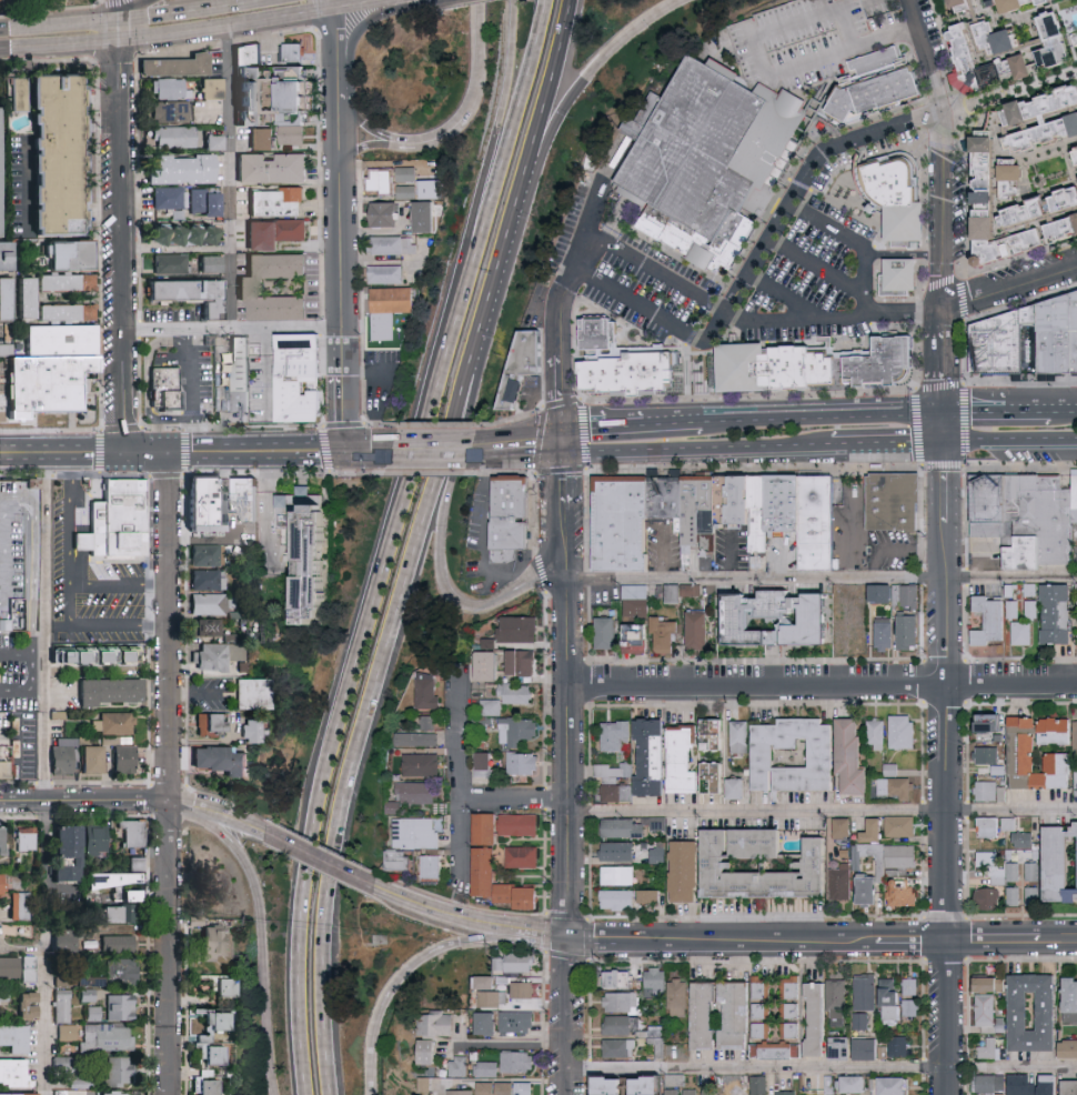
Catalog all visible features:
road: (411, 0)
road: (897, 1)
building: (968, 1)
building: (1024, 2)
road: (339, 7)
road: (374, 8)
road: (177, 9)
road: (118, 10)
road: (138, 10)
traffic signals: (118, 20)
road: (282, 21)
road: (63, 23)
road: (363, 24)
road: (4, 28)
road: (118, 32)
building: (1005, 36)
road: (172, 37)
building: (1061, 39)
road: (340, 41)
parking lot: (813, 41)
traffic signals: (119, 46)
road: (64, 50)
road: (4, 56)
road: (480, 56)
building: (293, 58)
building: (976, 61)
building: (1029, 63)
road: (763, 64)
building: (177, 67)
road: (587, 73)
building: (248, 81)
road: (340, 83)
building: (294, 84)
road: (547, 87)
building: (877, 87)
building: (169, 89)
building: (210, 89)
road: (1010, 93)
building: (18, 99)
road: (341, 99)
building: (292, 111)
road: (500, 111)
road: (514, 111)
building: (169, 112)
building: (1031, 115)
building: (1015, 118)
road: (362, 122)
road: (445, 131)
building: (291, 135)
building: (172, 138)
building: (262, 140)
road: (402, 140)
building: (212, 143)
road: (375, 144)
road: (944, 150)
building: (57, 155)
building: (272, 168)
building: (181, 170)
building: (708, 171)
building: (405, 174)
building: (1020, 178)
road: (228, 179)
building: (378, 180)
building: (405, 192)
building: (0, 194)
building: (992, 197)
building: (1069, 198)
building: (169, 199)
building: (276, 202)
building: (204, 203)
building: (902, 210)
building: (1034, 210)
building: (383, 215)
building: (423, 217)
road: (614, 223)
building: (1067, 227)
building: (273, 233)
building: (182, 235)
road: (767, 239)
building: (1031, 239)
road: (858, 244)
building: (391, 245)
road: (121, 249)
building: (68, 257)
building: (6, 258)
road: (581, 261)
parking lot: (766, 262)
building: (169, 263)
road: (499, 263)
building: (210, 264)
road: (814, 267)
building: (384, 274)
road: (342, 275)
building: (905, 282)
building: (66, 283)
road: (1009, 285)
building: (248, 288)
building: (189, 294)
road: (783, 295)
building: (4, 299)
building: (26, 299)
building: (394, 305)
building: (66, 313)
road: (658, 317)
road: (833, 321)
road: (232, 329)
building: (597, 331)
building: (1058, 335)
building: (60, 340)
building: (999, 345)
building: (7, 353)
road: (556, 355)
building: (886, 372)
building: (626, 375)
building: (301, 376)
building: (525, 376)
building: (748, 378)
building: (807, 380)
building: (236, 382)
building: (43, 385)
road: (189, 391)
building: (165, 392)
road: (717, 400)
road: (995, 408)
road: (1063, 408)
traffic signals: (943, 409)
road: (585, 410)
road: (823, 414)
road: (675, 422)
road: (604, 425)
traffic signals: (562, 428)
road: (8, 435)
road: (519, 439)
road: (562, 441)
road: (1009, 449)
road: (889, 450)
traffic signals: (943, 450)
road: (254, 451)
traffic signals: (344, 451)
road: (370, 451)
road: (435, 451)
road: (144, 452)
traffic signals: (165, 452)
road: (520, 452)
road: (699, 452)
road: (95, 453)
traffic signals: (123, 453)
road: (22, 454)
road: (57, 454)
traffic signals: (563, 454)
road: (563, 481)
road: (449, 500)
building: (664, 503)
building: (782, 508)
building: (897, 509)
building: (733, 510)
road: (0, 512)
building: (516, 514)
building: (756, 514)
building: (697, 515)
building: (1026, 515)
building: (209, 519)
building: (251, 519)
building: (620, 524)
building: (823, 524)
building: (119, 531)
road: (856, 533)
parking lot: (8, 536)
road: (565, 543)
building: (316, 547)
road: (896, 549)
building: (19, 552)
building: (207, 554)
road: (29, 564)
road: (821, 579)
building: (209, 580)
road: (117, 582)
road: (532, 582)
building: (693, 589)
road: (67, 590)
building: (675, 592)
building: (884, 592)
building: (855, 593)
building: (910, 594)
building: (637, 600)
building: (210, 603)
building: (1033, 607)
building: (1059, 612)
building: (997, 615)
building: (783, 617)
road: (168, 625)
road: (44, 626)
building: (211, 626)
building: (520, 627)
building: (698, 629)
building: (607, 631)
building: (908, 631)
building: (852, 632)
building: (885, 632)
building: (1024, 632)
building: (664, 633)
building: (638, 636)
building: (490, 642)
road: (355, 653)
building: (89, 655)
building: (131, 655)
road: (22, 656)
building: (212, 656)
building: (524, 661)
building: (491, 664)
road: (32, 674)
road: (822, 682)
parking lot: (20, 687)
building: (432, 687)
building: (112, 690)
building: (519, 692)
road: (22, 693)
road: (192, 693)
road: (945, 701)
building: (256, 702)
building: (494, 706)
road: (361, 719)
building: (995, 721)
building: (113, 722)
building: (213, 722)
building: (431, 722)
building: (254, 730)
building: (520, 730)
building: (1060, 730)
building: (903, 731)
building: (717, 733)
building: (877, 733)
building: (617, 734)
building: (741, 735)
building: (419, 739)
building: (796, 754)
building: (988, 754)
building: (66, 755)
building: (653, 756)
building: (854, 756)
building: (1037, 757)
building: (94, 759)
building: (127, 759)
road: (567, 759)
building: (224, 760)
building: (684, 760)
building: (524, 762)
building: (424, 763)
building: (486, 763)
building: (4, 768)
building: (893, 768)
building: (615, 771)
building: (717, 776)
road: (463, 780)
building: (1076, 781)
building: (897, 786)
building: (738, 787)
building: (990, 790)
building: (420, 791)
building: (620, 792)
road: (515, 797)
road: (83, 800)
road: (184, 803)
building: (396, 806)
road: (823, 811)
road: (233, 820)
building: (1010, 822)
building: (521, 824)
building: (902, 824)
building: (990, 825)
building: (489, 827)
building: (843, 827)
building: (875, 830)
building: (420, 832)
building: (134, 833)
building: (27, 838)
building: (1024, 838)
building: (2, 840)
building: (98, 840)
building: (618, 850)
building: (72, 852)
building: (658, 854)
building: (903, 855)
building: (524, 856)
building: (989, 857)
building: (400, 858)
road: (316, 860)
road: (43, 861)
building: (718, 863)
building: (1063, 863)
building: (1010, 866)
building: (434, 867)
building: (687, 870)
building: (882, 871)
building: (1034, 871)
building: (618, 874)
building: (123, 875)
building: (493, 876)
building: (843, 883)
building: (2, 884)
building: (904, 892)
building: (137, 895)
building: (653, 895)
building: (1016, 895)
building: (1033, 895)
building: (531, 897)
building: (620, 897)
building: (989, 897)
building: (21, 904)
building: (121, 913)
road: (435, 915)
road: (540, 936)
road: (824, 938)
road: (264, 940)
building: (67, 941)
building: (219, 942)
building: (119, 944)
road: (168, 947)
building: (517, 962)
building: (10, 965)
building: (30, 967)
building: (122, 971)
building: (63, 978)
building: (621, 978)
building: (92, 980)
road: (401, 981)
building: (490, 982)
building: (657, 982)
building: (993, 984)
building: (912, 985)
building: (231, 986)
building: (761, 986)
building: (524, 988)
building: (3, 994)
building: (91, 994)
building: (680, 996)
building: (495, 997)
building: (865, 998)
building: (1073, 999)
building: (623, 1001)
building: (897, 1001)
building: (30, 1005)
building: (62, 1005)
building: (121, 1006)
building: (791, 1006)
building: (1035, 1011)
building: (763, 1012)
building: (825, 1012)
building: (93, 1013)
building: (706, 1014)
building: (738, 1014)
building: (990, 1014)
road: (568, 1015)
road: (44, 1018)
building: (222, 1019)
building: (520, 1021)
building: (439, 1023)
building: (491, 1023)
building: (620, 1024)
building: (763, 1029)
building: (67, 1032)
building: (16, 1037)
building: (107, 1037)
building: (658, 1038)
building: (899, 1045)
building: (844, 1046)
building: (622, 1047)
building: (868, 1048)
building: (992, 1048)
building: (1069, 1048)
building: (213, 1049)
building: (778, 1049)
building: (432, 1051)
building: (62, 1061)
building: (521, 1061)
building: (462, 1066)
building: (490, 1068)
road: (822, 1068)
building: (119, 1069)
building: (14, 1071)
building: (210, 1082)
building: (993, 1082)
building: (856, 1083)
building: (429, 1084)
building: (617, 1084)
building: (762, 1084)
building: (1023, 1084)
building: (895, 1085)
building: (1050, 1085)
building: (1070, 1086)
building: (499, 1087)
building: (527, 1087)
building: (694, 1091)
building: (714, 1091)
building: (465, 1092)
building: (788, 1092)
building: (115, 1093)
building: (20, 1094)

